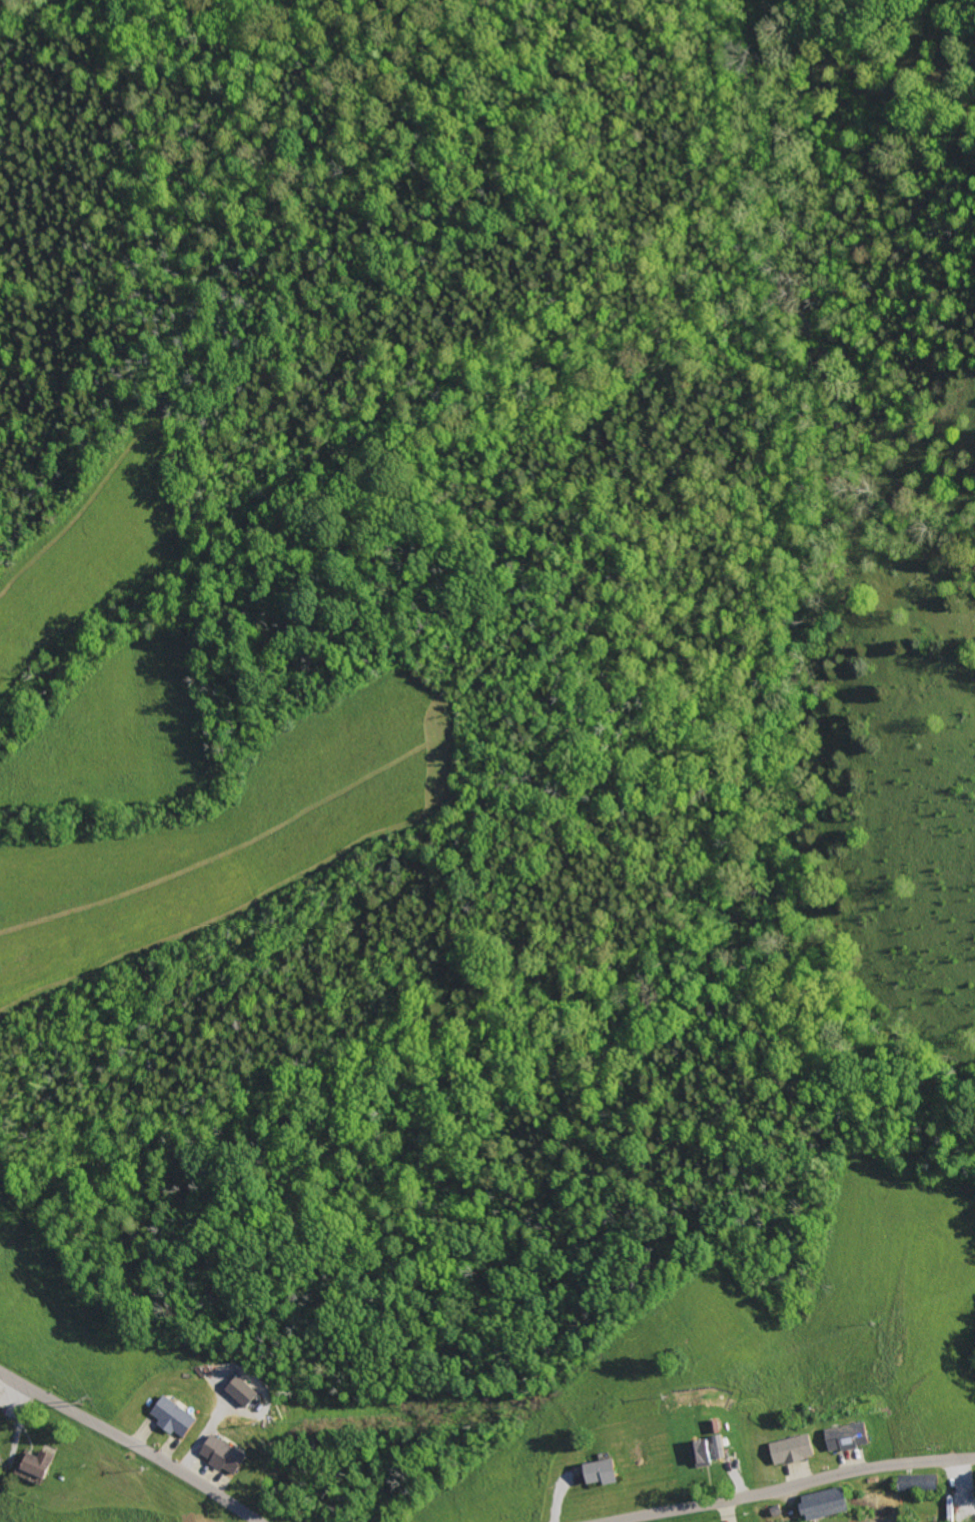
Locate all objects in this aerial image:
building: (0, 1384)
building: (245, 1391)
power tower: (92, 1401)
building: (177, 1417)
building: (850, 1436)
road: (133, 1442)
building: (794, 1449)
building: (703, 1451)
building: (225, 1455)
building: (40, 1462)
building: (604, 1471)
road: (791, 1486)
building: (831, 1502)

